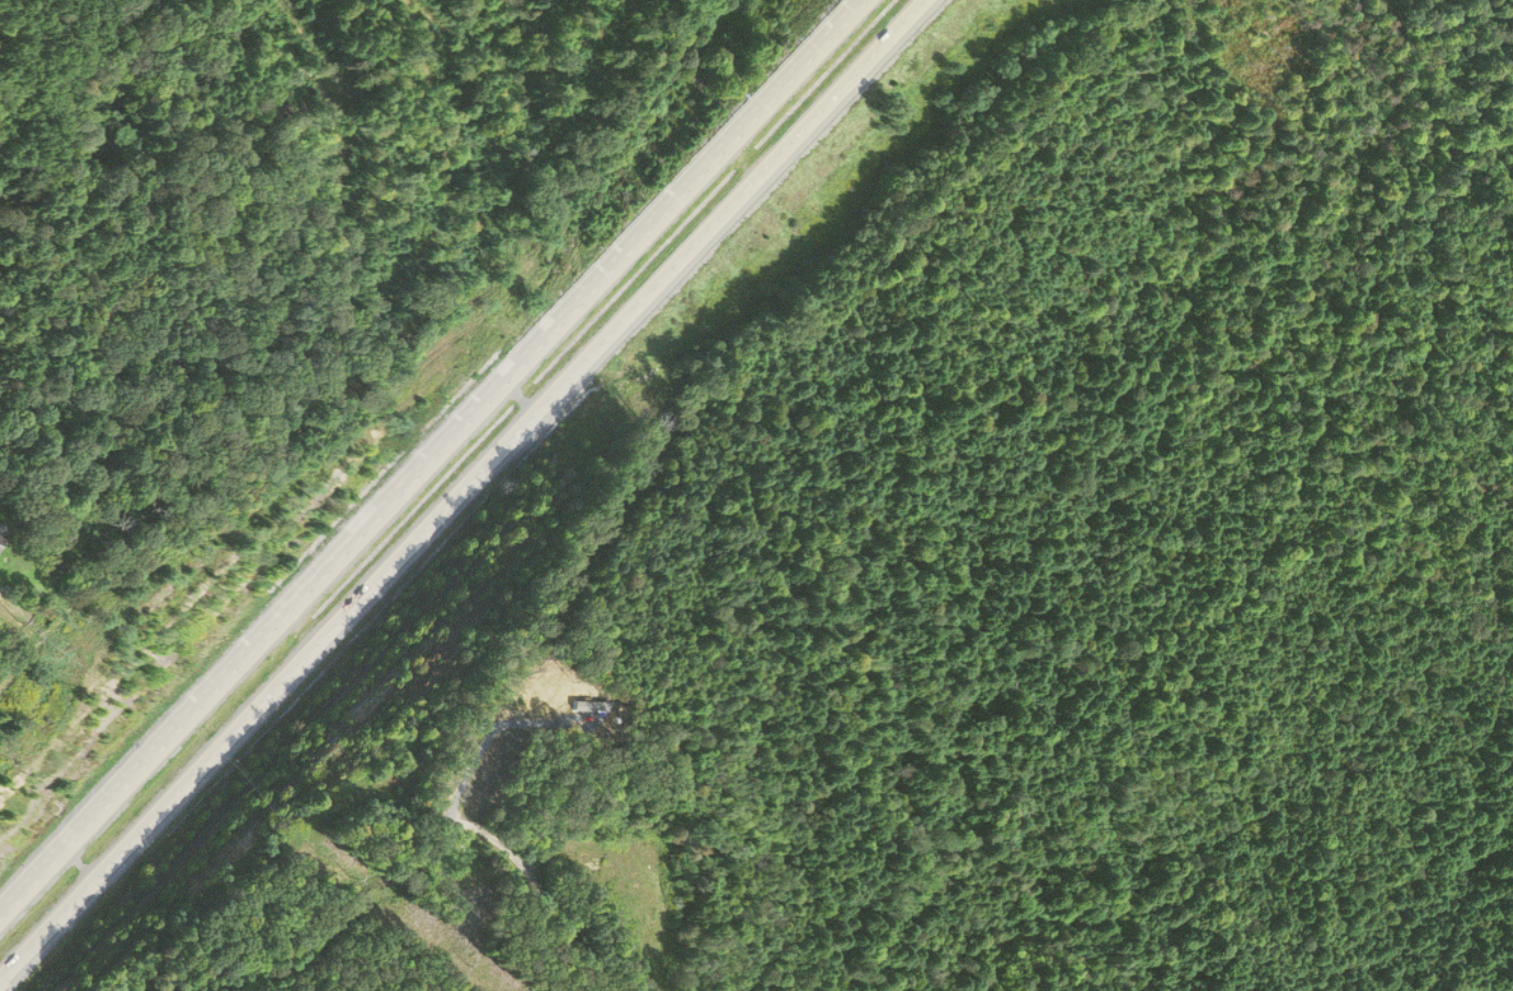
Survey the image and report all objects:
road: (426, 457)
road: (462, 490)
building: (5, 543)
road: (14, 579)
road: (482, 829)

